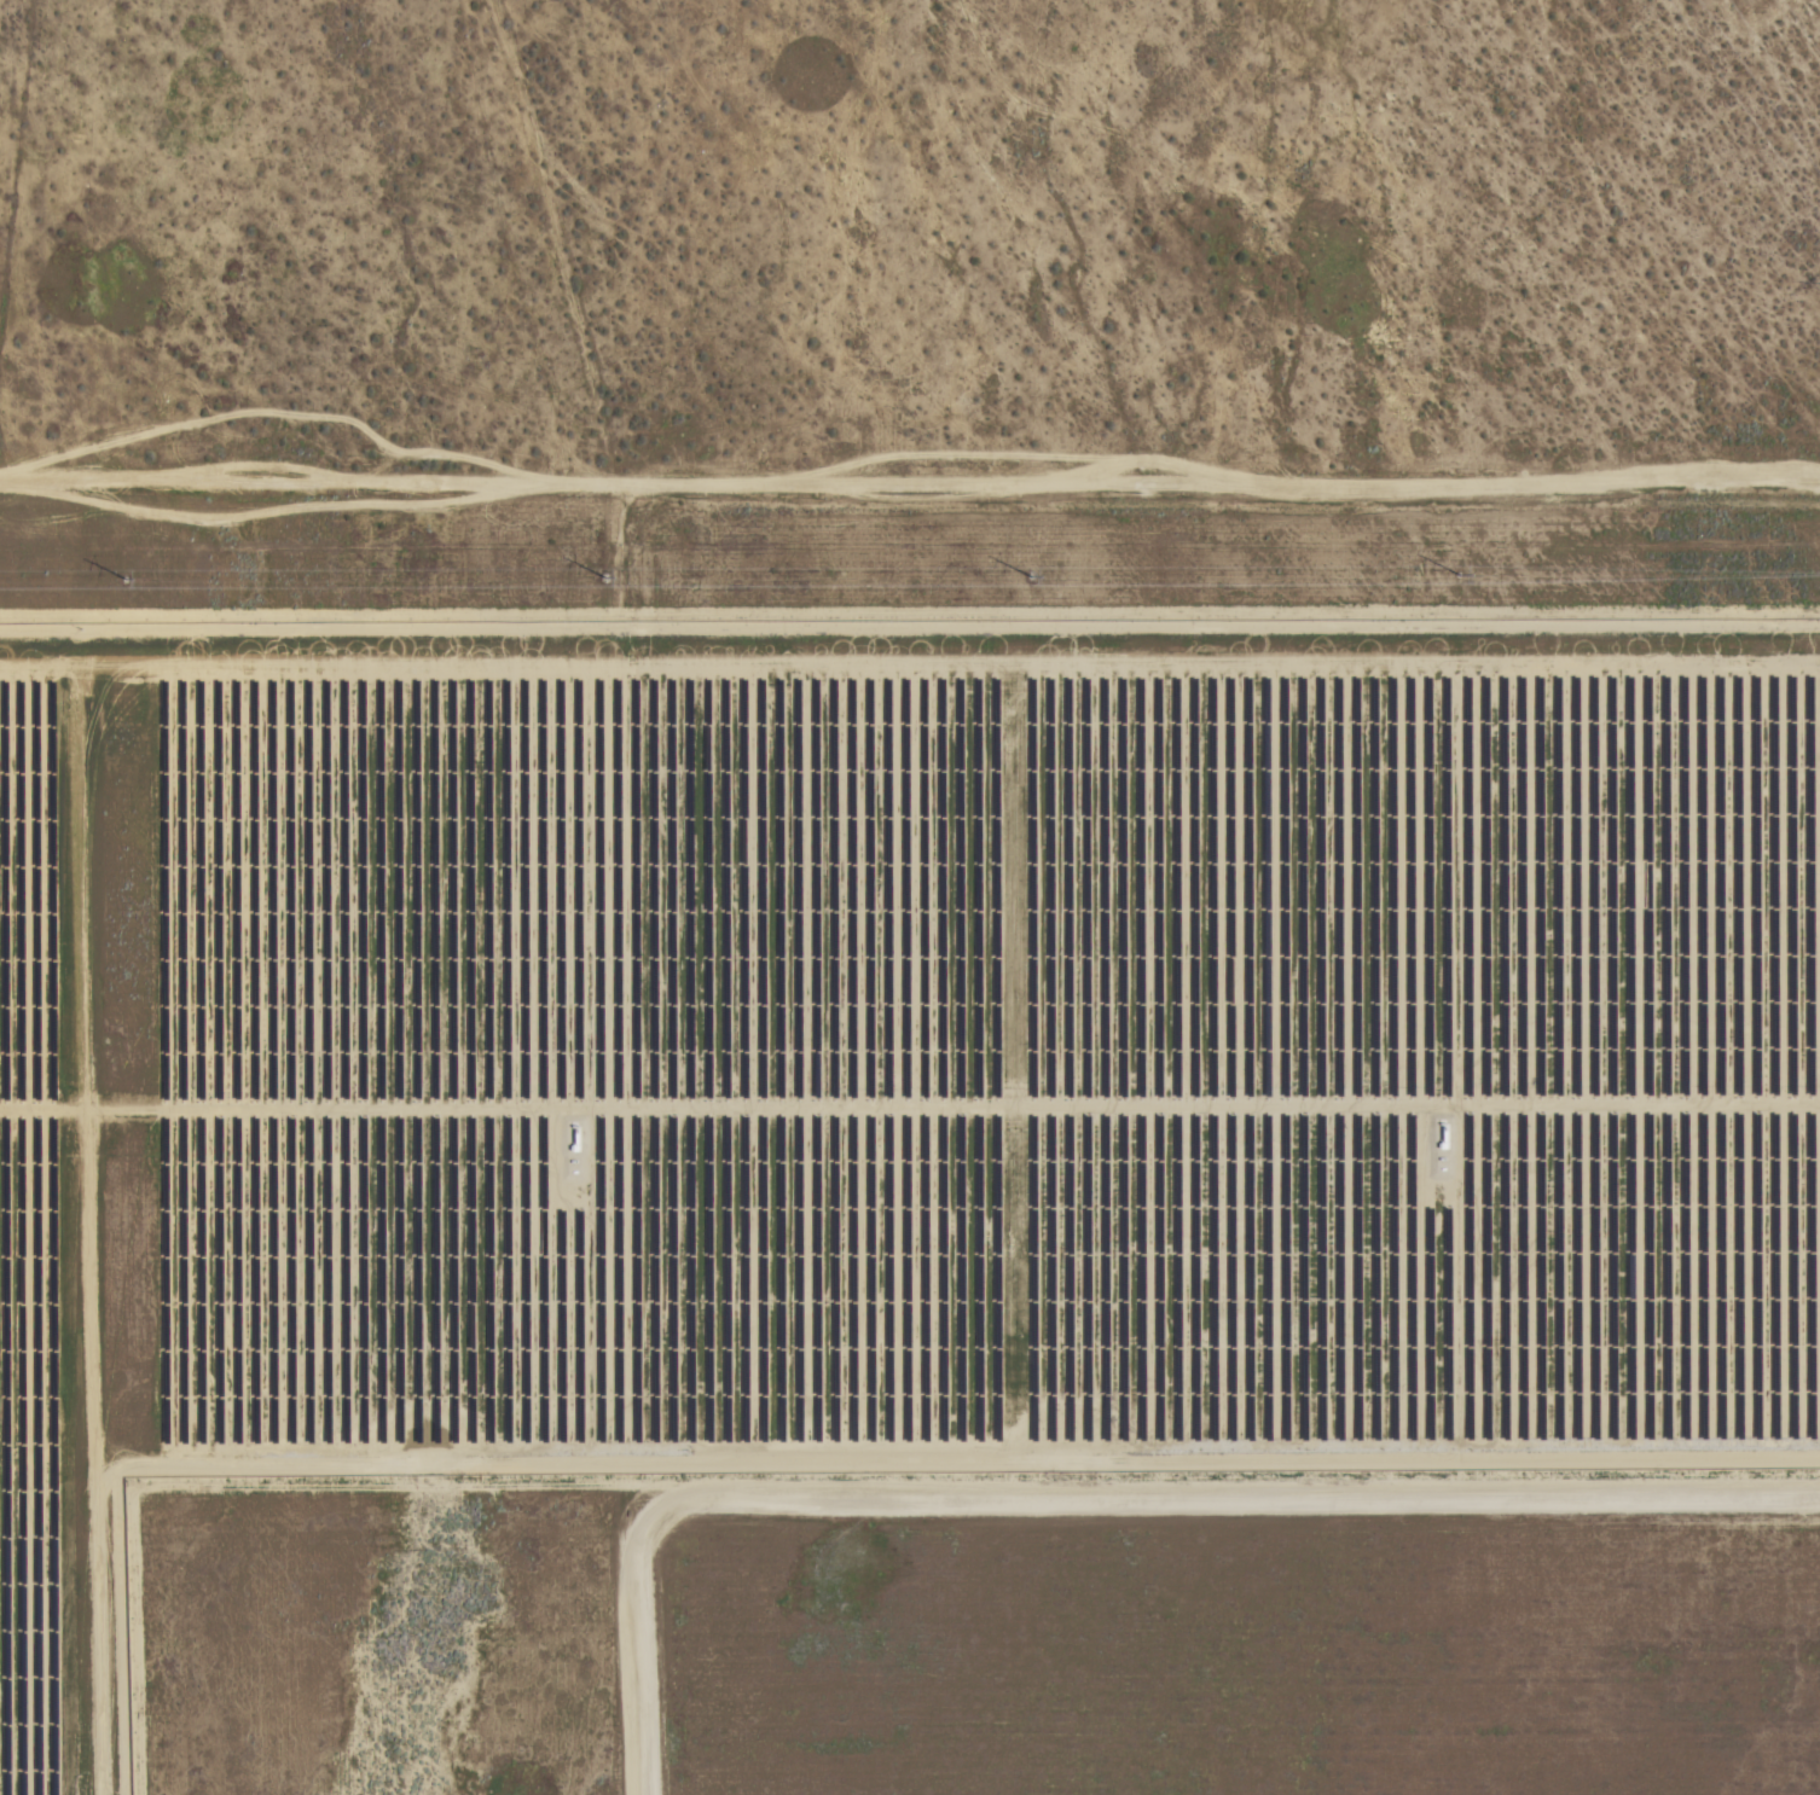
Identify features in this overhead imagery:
road: (909, 525)
solar farm: (886, 1064)

